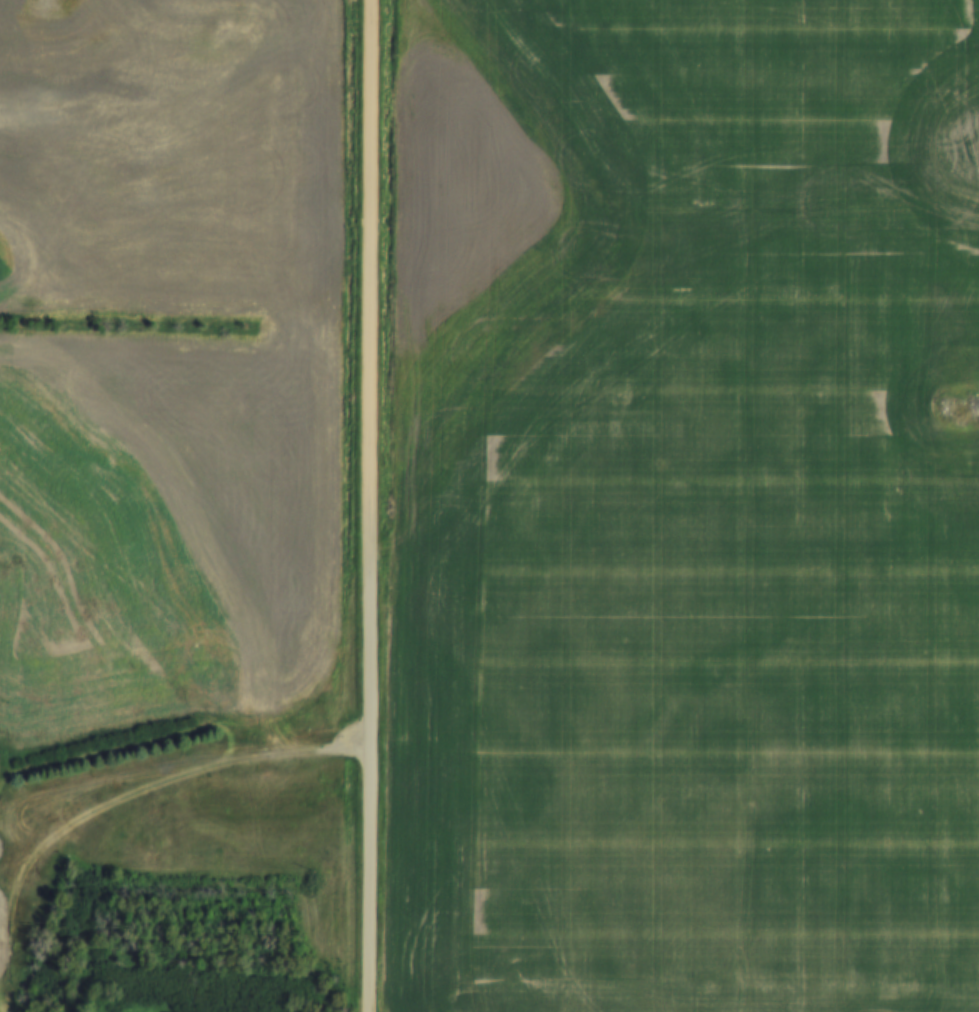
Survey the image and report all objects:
road: (369, 506)
road: (181, 758)

